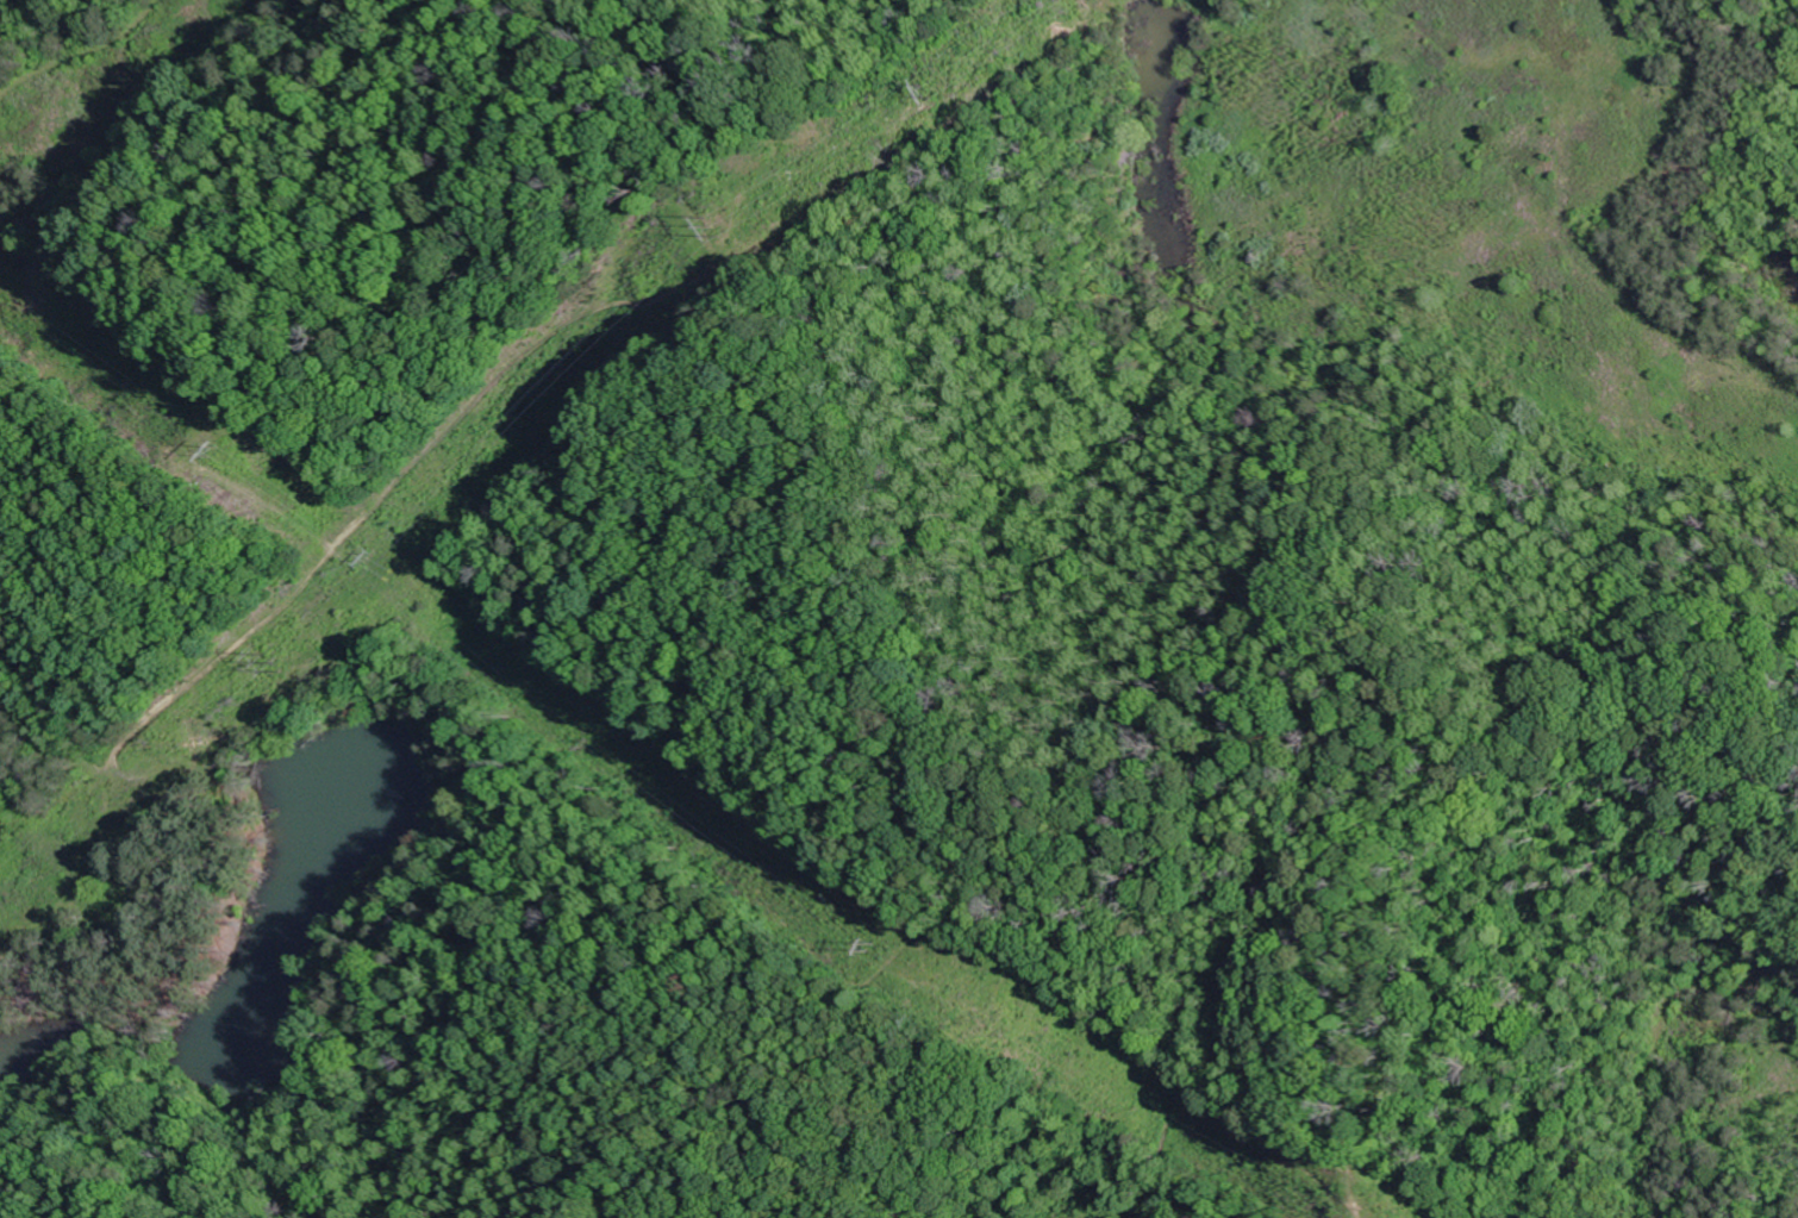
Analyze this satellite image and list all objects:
power tower: (948, 81)
power tower: (728, 220)
power tower: (231, 443)
power tower: (362, 552)
power tower: (269, 652)
power tower: (882, 938)

